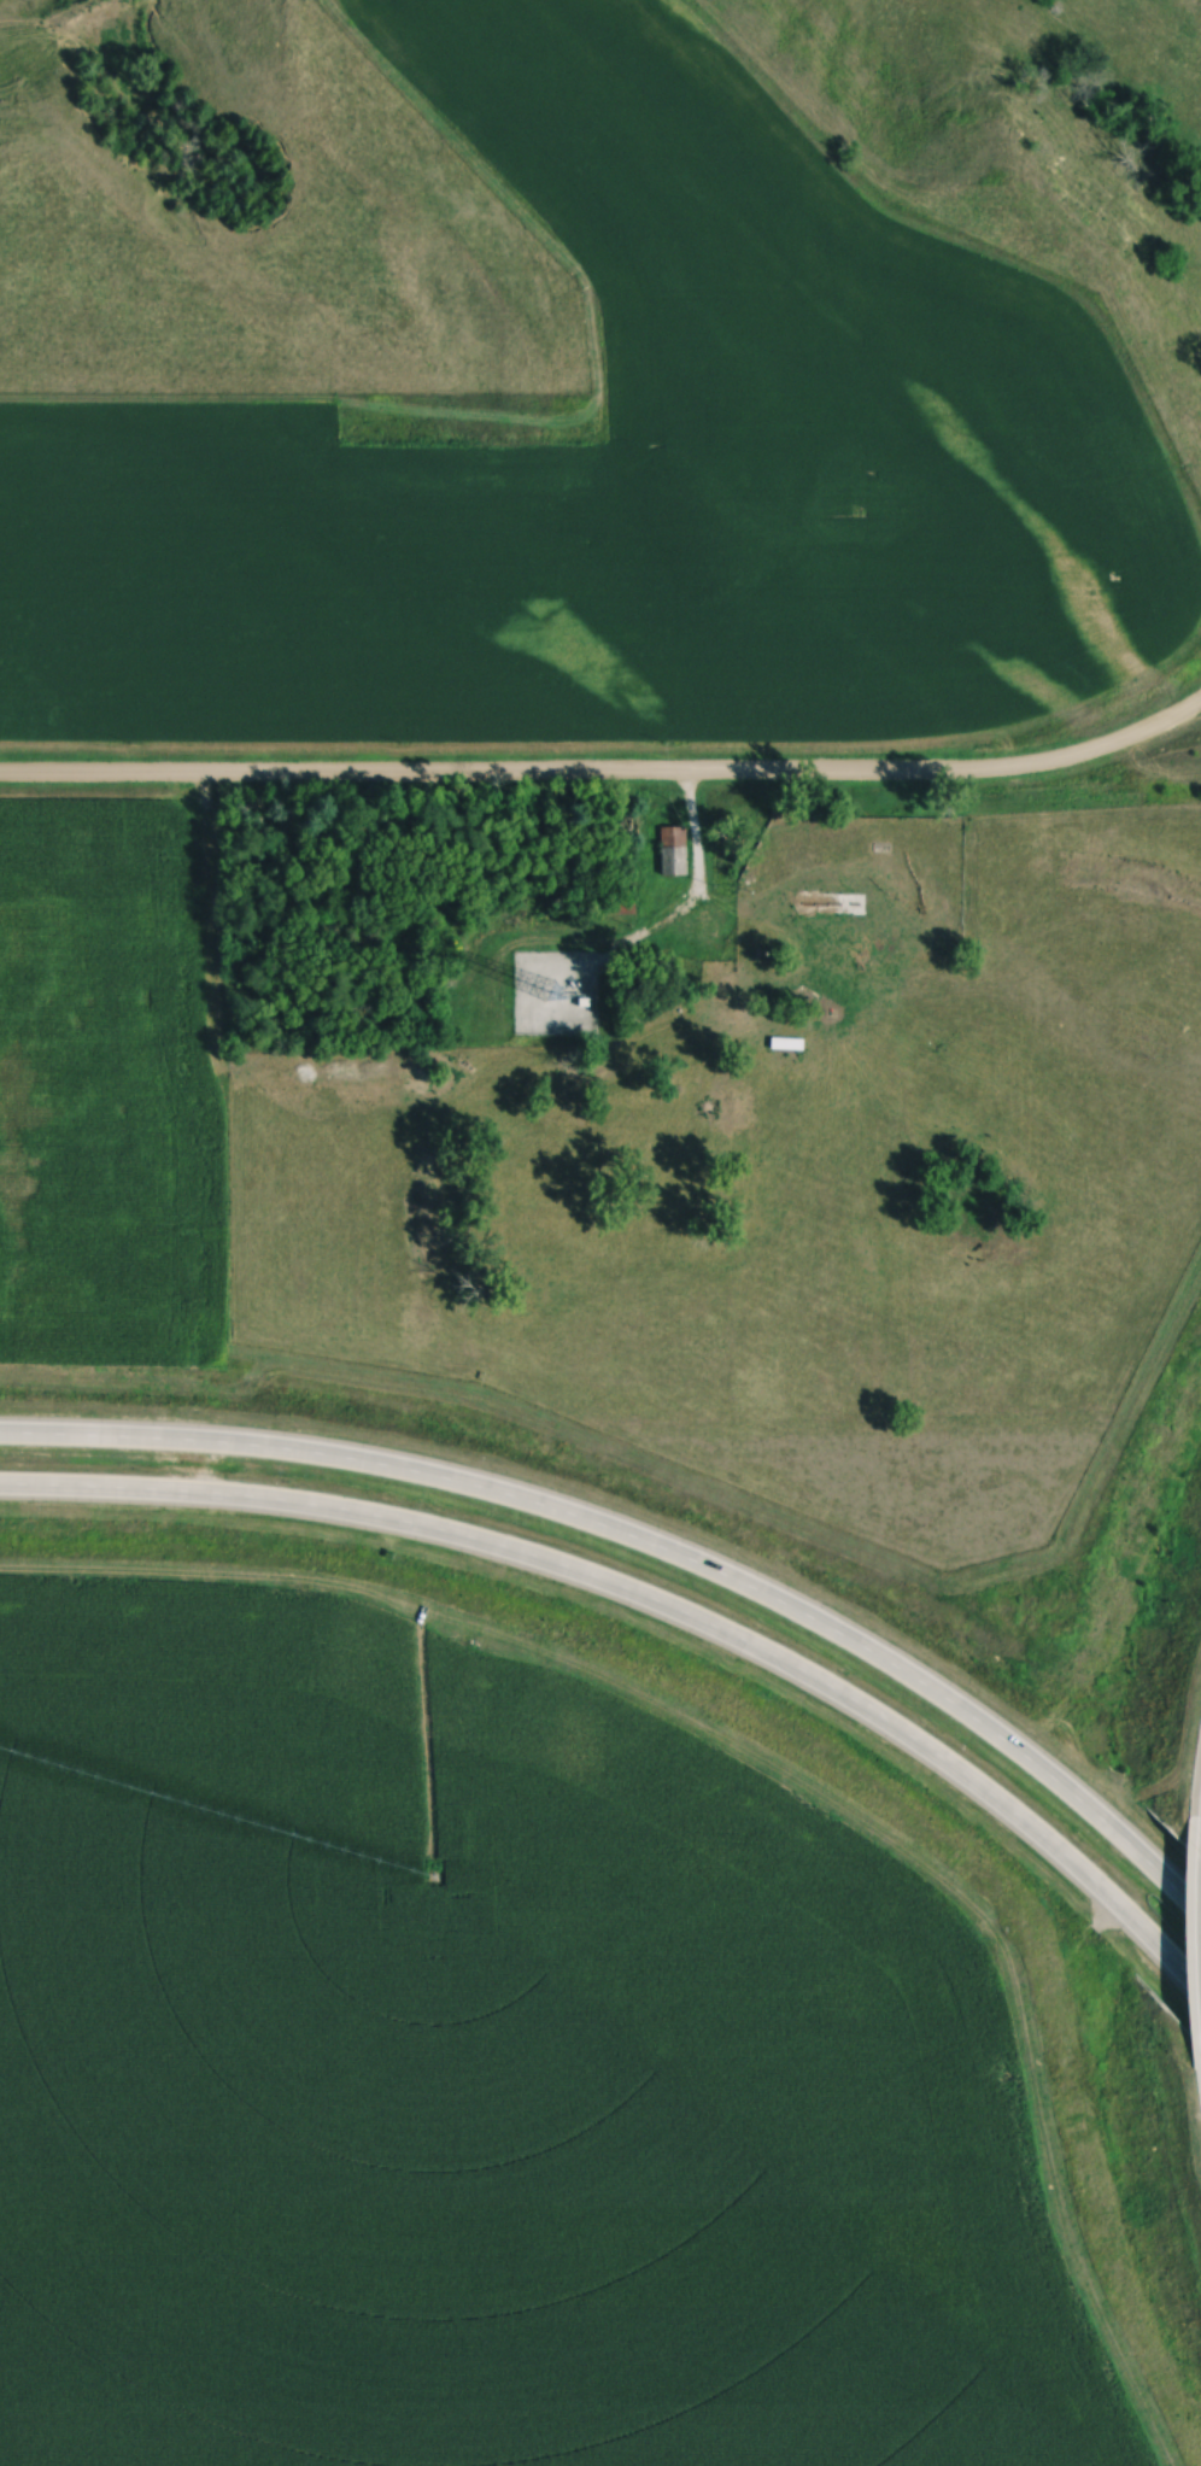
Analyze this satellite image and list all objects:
road: (608, 775)
building: (674, 850)
building: (789, 1044)
road: (651, 1542)
road: (657, 1603)

